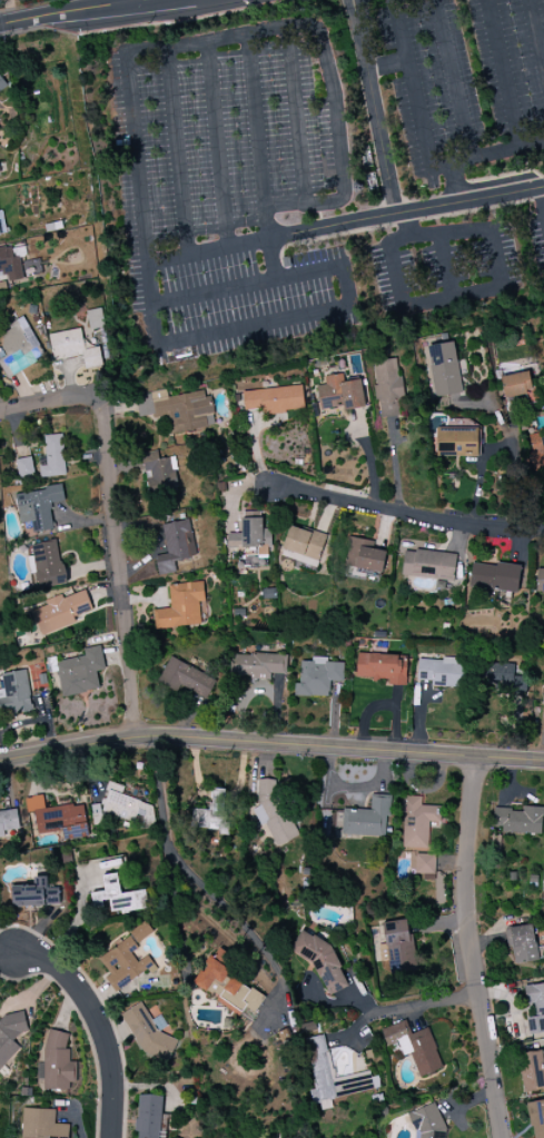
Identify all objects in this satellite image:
road: (128, 0)
road: (131, 0)
road: (65, 13)
road: (536, 30)
road: (387, 67)
road: (504, 73)
road: (449, 79)
building: (1, 86)
road: (414, 92)
road: (373, 108)
road: (297, 117)
road: (259, 138)
road: (218, 146)
road: (338, 150)
road: (506, 150)
road: (178, 152)
parking lot: (328, 170)
road: (453, 174)
road: (543, 192)
building: (1, 226)
road: (345, 226)
road: (408, 226)
road: (542, 227)
road: (467, 229)
road: (274, 261)
building: (10, 265)
building: (95, 319)
road: (151, 324)
building: (444, 369)
building: (517, 386)
building: (387, 388)
building: (340, 393)
building: (274, 399)
building: (177, 409)
building: (456, 443)
building: (536, 453)
building: (52, 457)
building: (24, 467)
road: (513, 469)
building: (159, 473)
building: (38, 507)
road: (402, 514)
road: (112, 519)
building: (255, 533)
building: (175, 546)
building: (303, 546)
building: (364, 555)
building: (48, 564)
building: (428, 565)
building: (495, 576)
building: (540, 580)
building: (180, 606)
building: (60, 612)
building: (258, 665)
building: (380, 667)
building: (80, 672)
building: (442, 672)
building: (317, 677)
building: (185, 679)
building: (16, 693)
building: (543, 701)
road: (270, 746)
building: (126, 807)
building: (273, 812)
building: (215, 813)
building: (58, 818)
building: (367, 819)
building: (518, 820)
building: (8, 821)
building: (416, 822)
building: (425, 865)
road: (198, 879)
building: (34, 894)
building: (118, 897)
building: (140, 932)
building: (522, 943)
building: (397, 947)
road: (473, 949)
building: (123, 963)
building: (227, 984)
road: (421, 1007)
building: (535, 1008)
road: (99, 1023)
building: (149, 1033)
building: (10, 1036)
building: (414, 1047)
building: (57, 1063)
building: (532, 1071)
building: (329, 1075)
building: (148, 1116)
building: (536, 1119)
building: (426, 1122)
building: (41, 1125)

